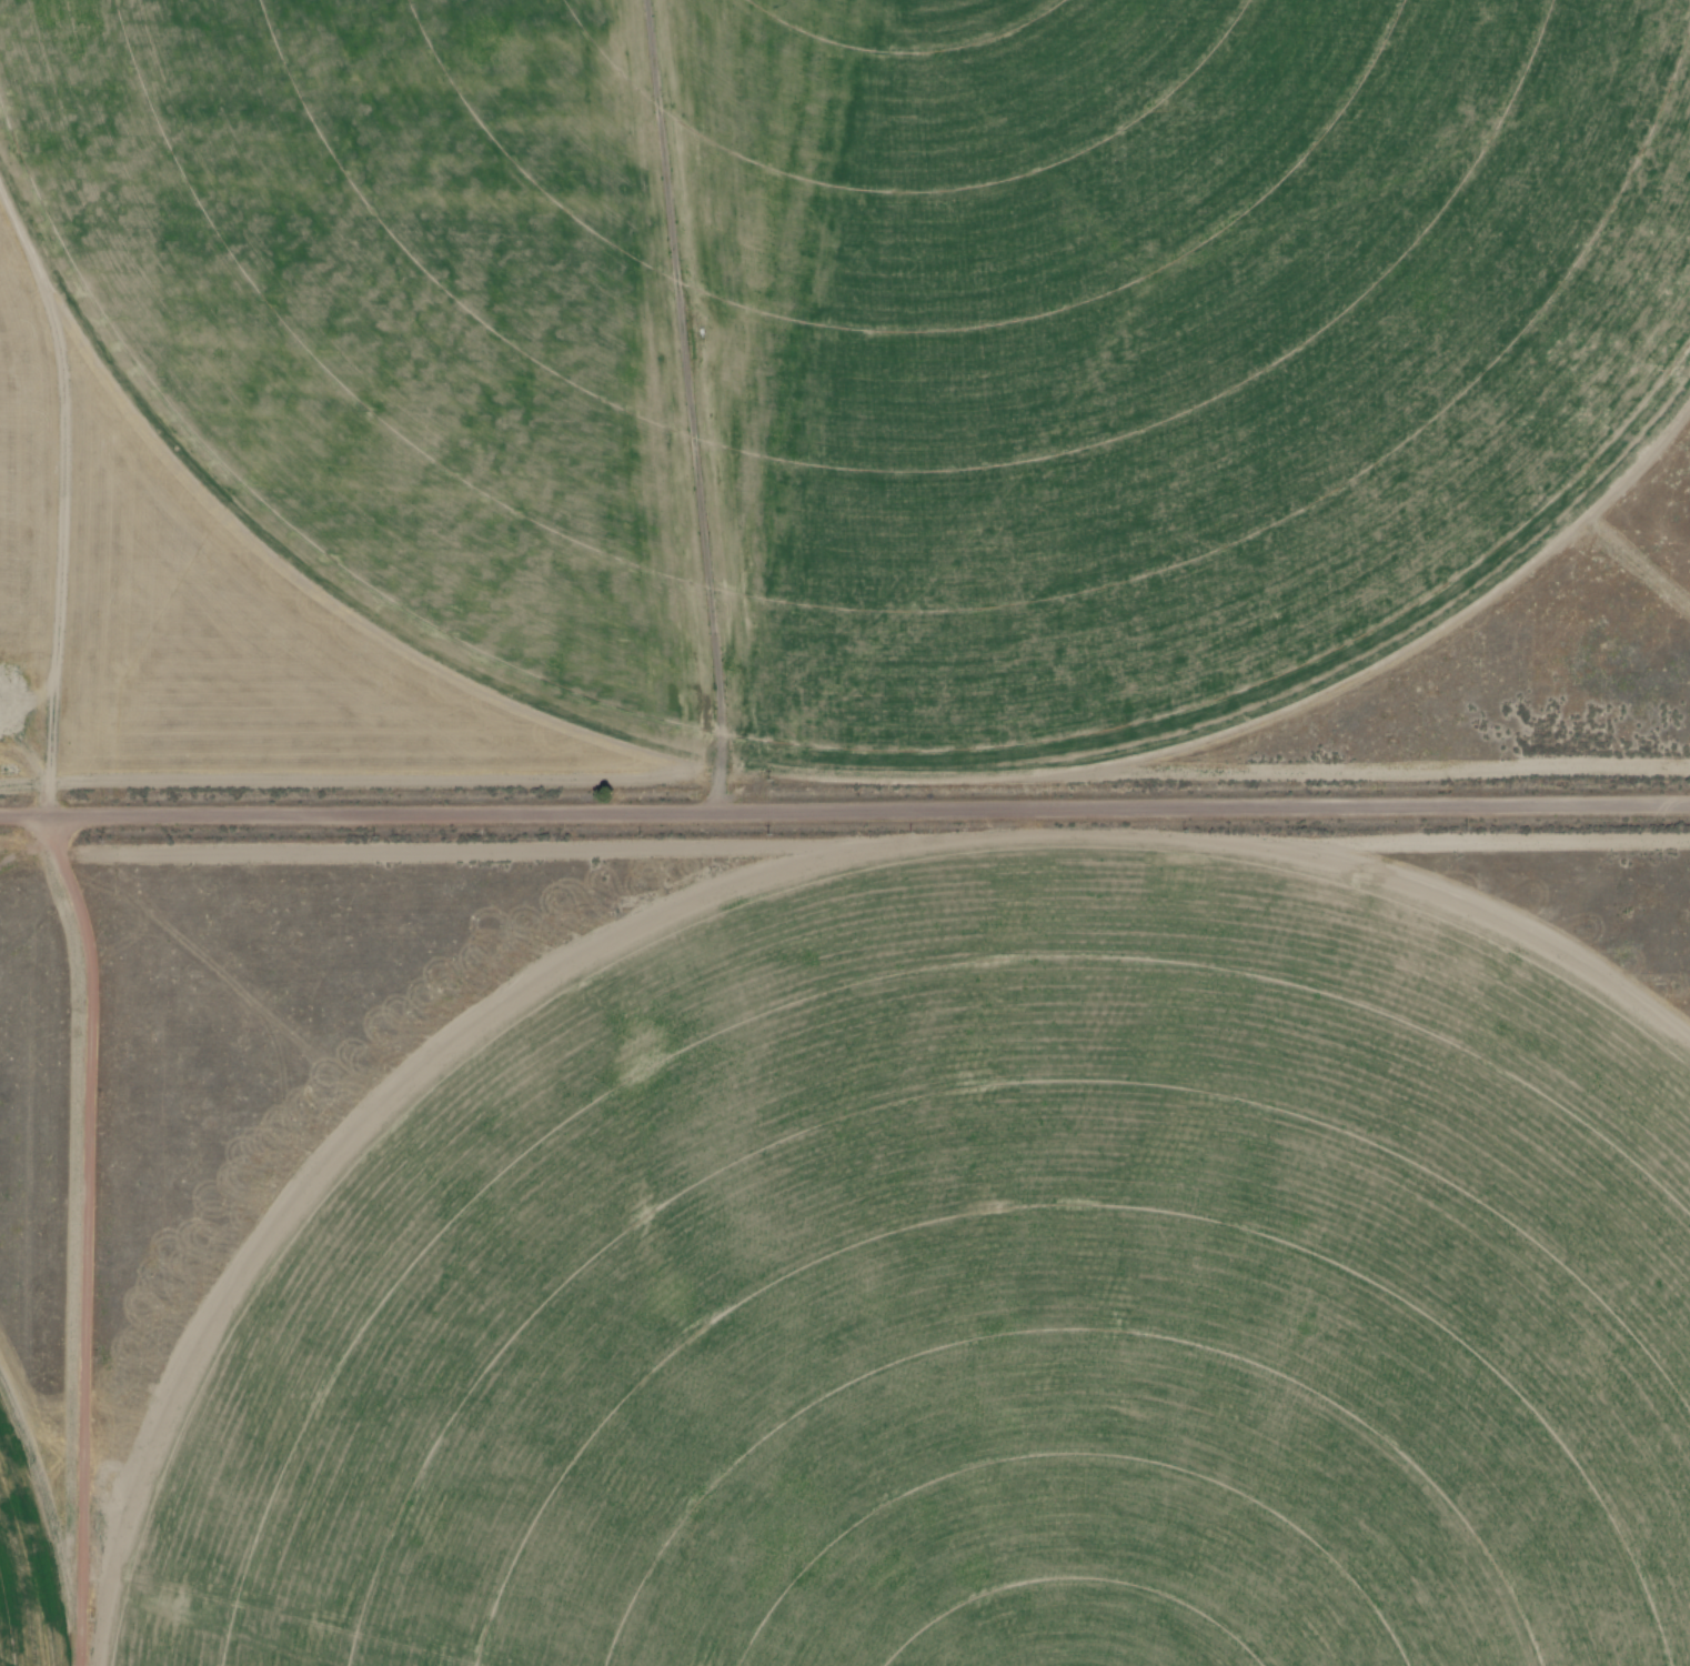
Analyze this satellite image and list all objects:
road: (677, 407)
road: (844, 812)

